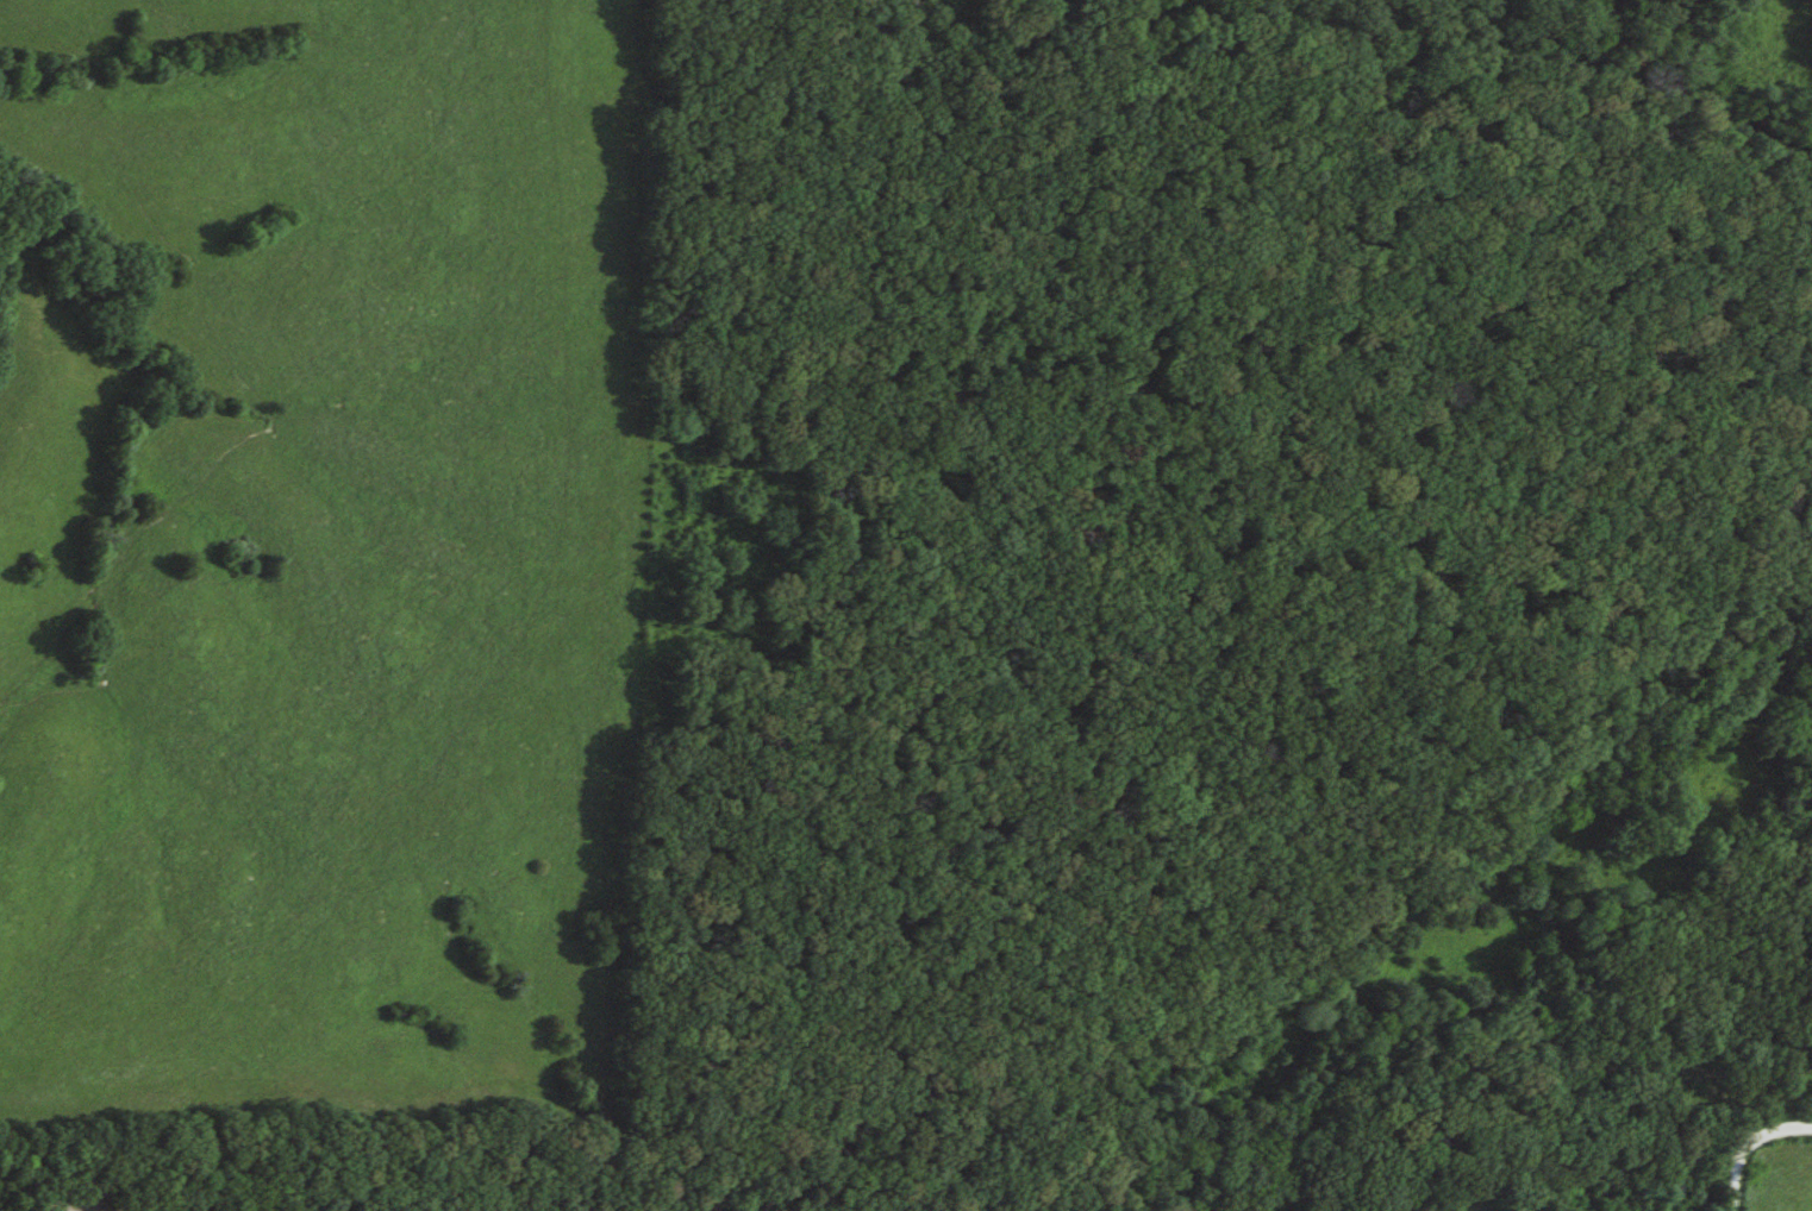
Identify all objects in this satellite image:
road: (1748, 1147)

